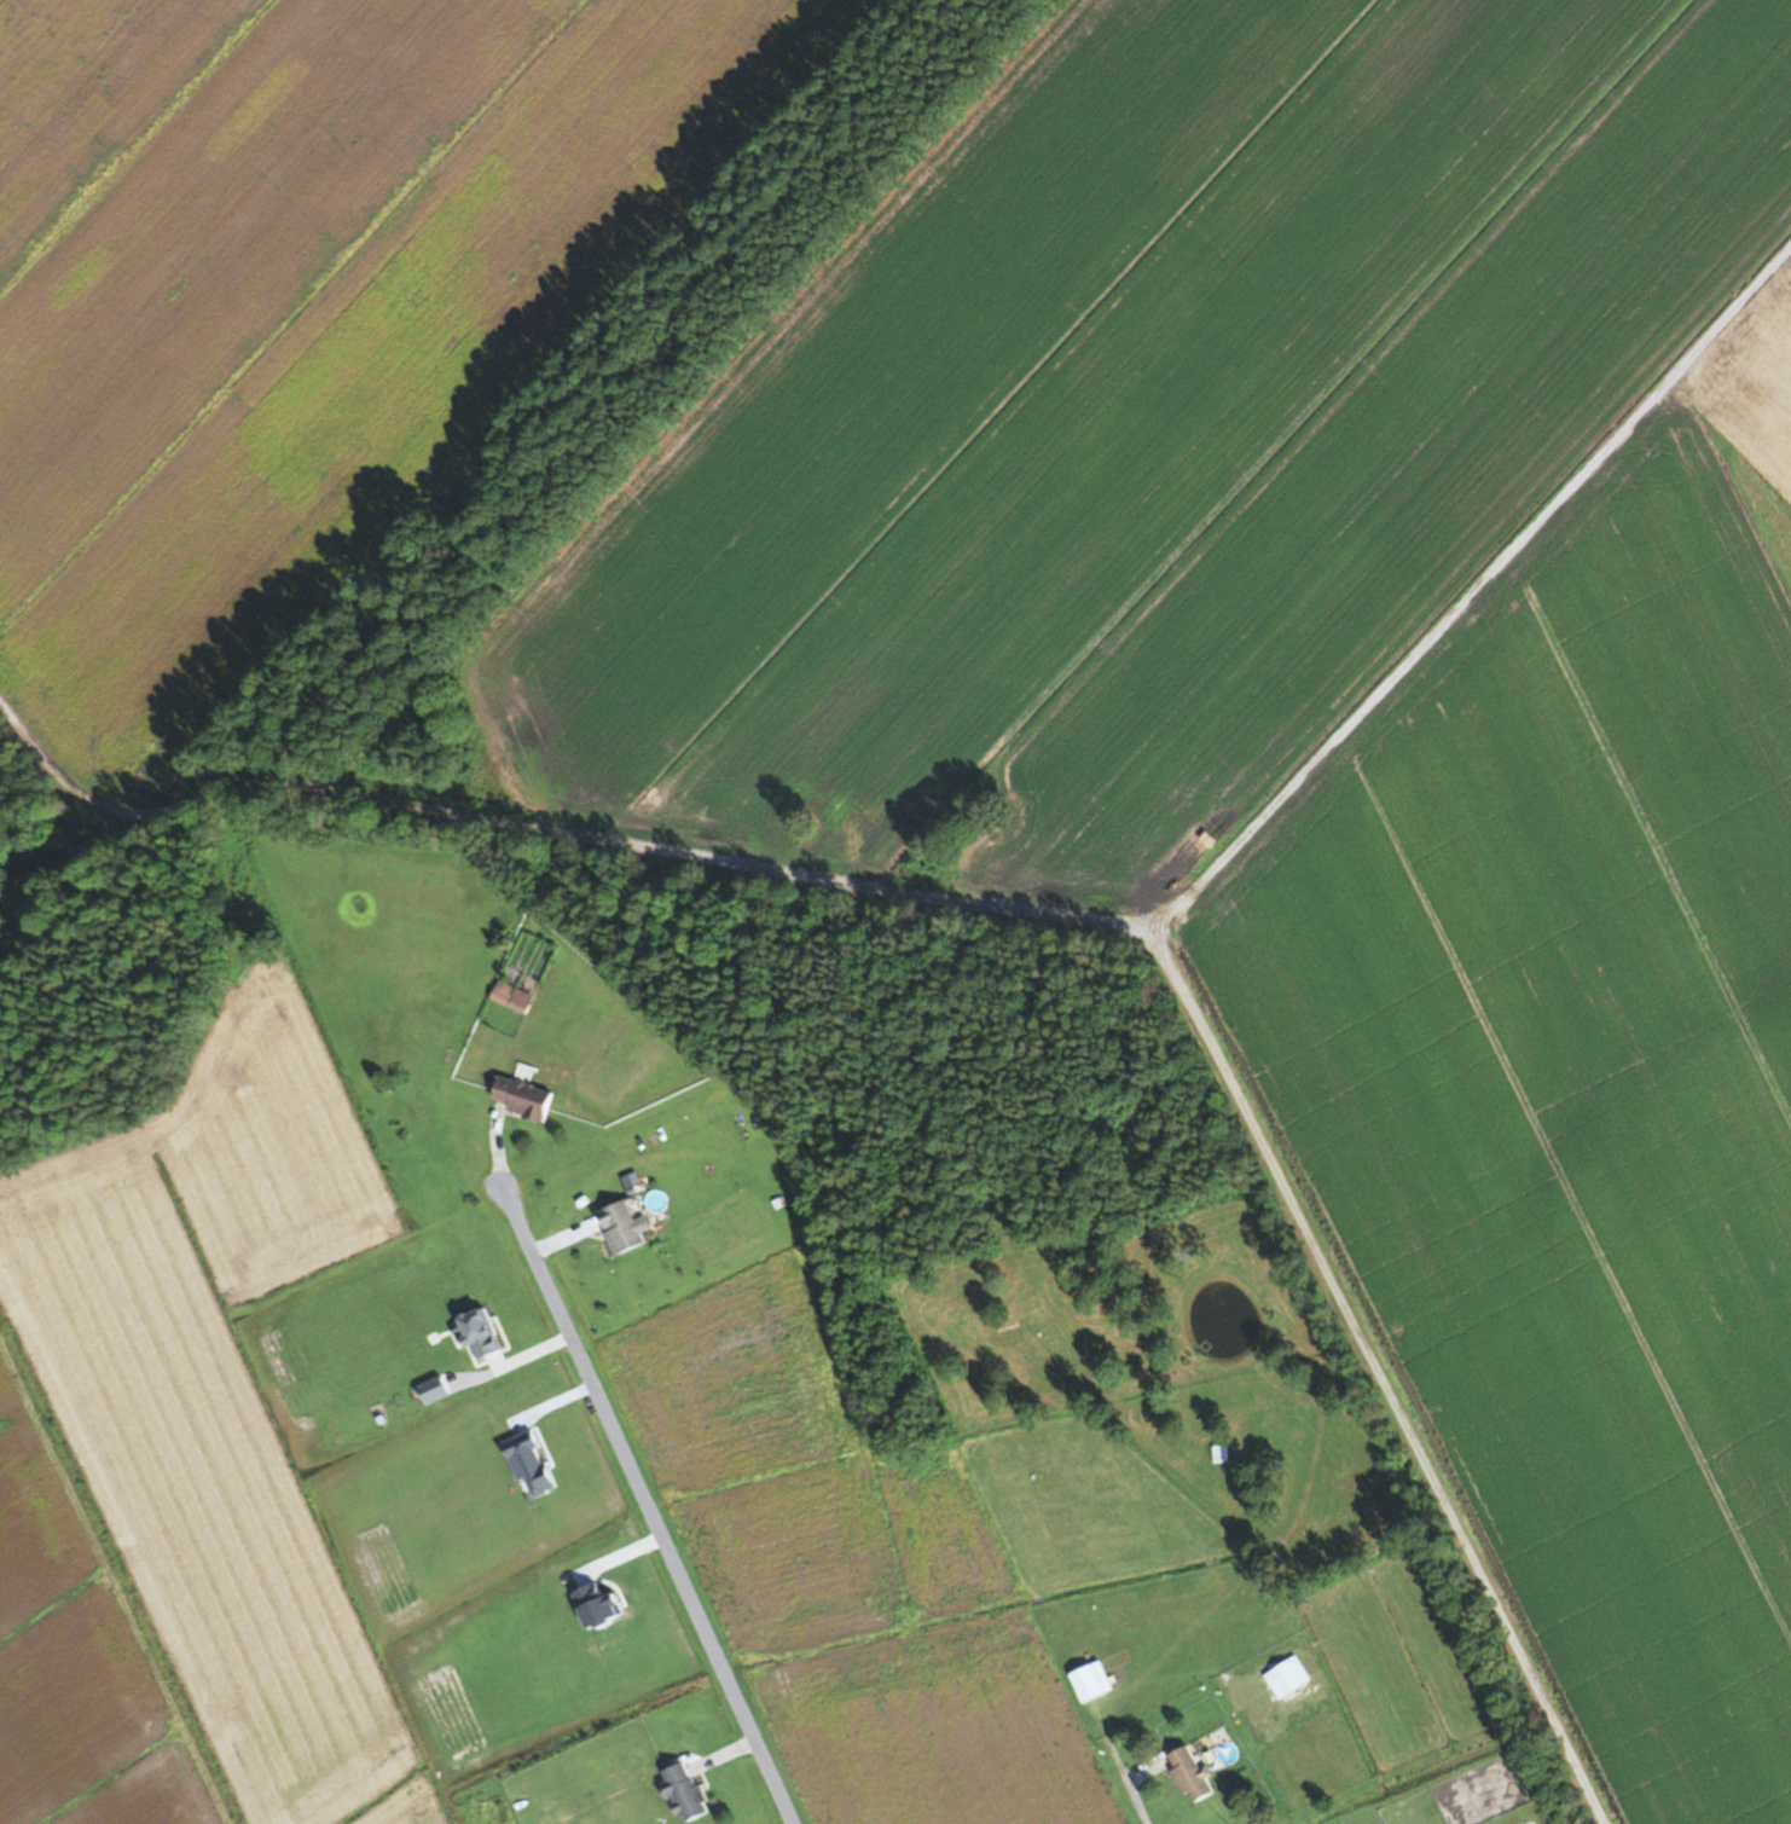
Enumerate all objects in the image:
road: (1036, 923)
building: (502, 991)
building: (522, 1096)
building: (619, 1226)
road: (512, 1357)
building: (1219, 1452)
road: (648, 1505)
building: (1286, 1675)
building: (1090, 1679)
building: (1189, 1771)
building: (683, 1788)
road: (1134, 1802)

